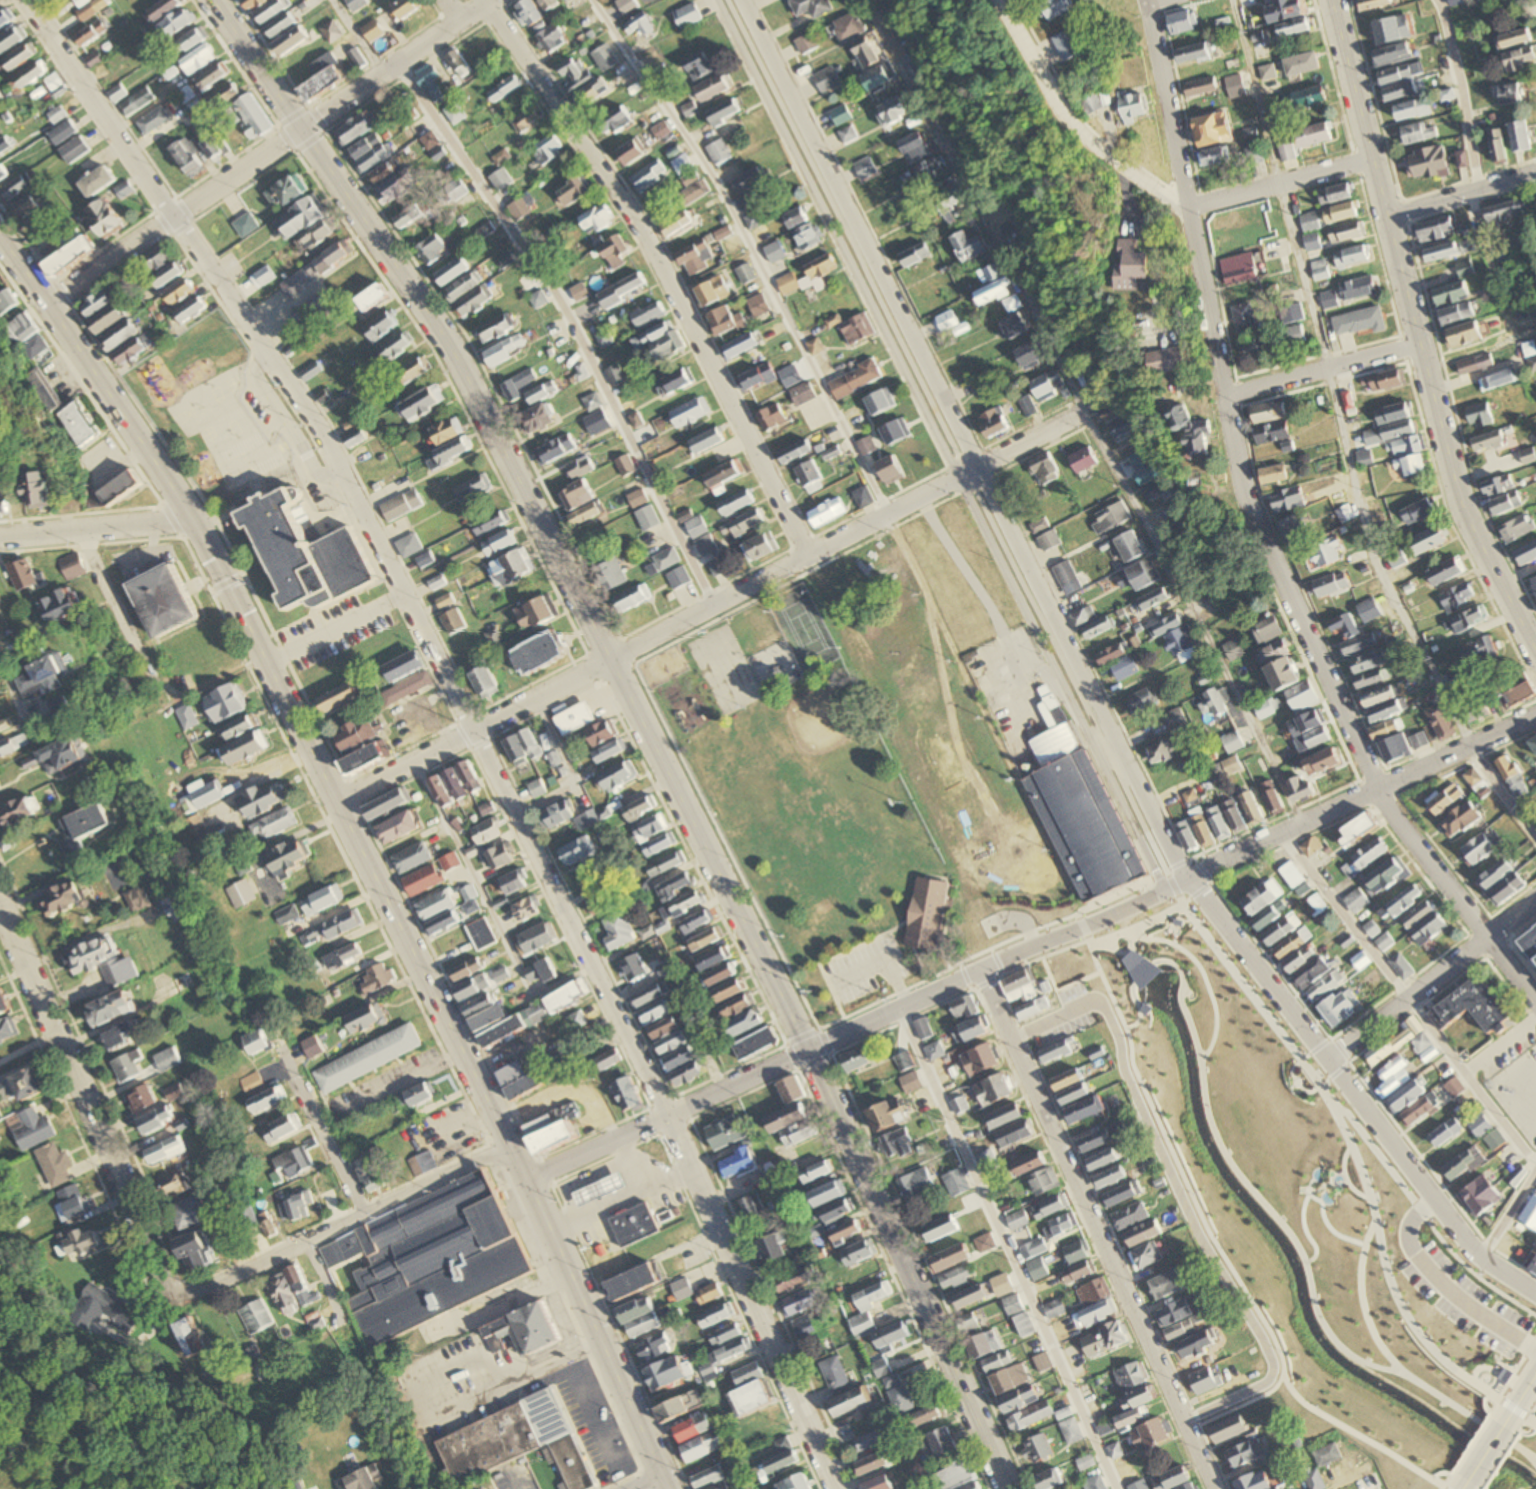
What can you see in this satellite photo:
building: (60, 0)
building: (563, 0)
road: (1148, 1)
building: (356, 4)
road: (452, 9)
road: (357, 37)
road: (1464, 92)
road: (1069, 127)
road: (267, 154)
road: (1279, 182)
road: (1459, 192)
road: (750, 249)
road: (664, 268)
road: (572, 325)
road: (1413, 330)
road: (1319, 369)
road: (1083, 412)
road: (1342, 435)
road: (949, 437)
road: (962, 439)
road: (941, 444)
road: (533, 509)
road: (95, 528)
road: (1263, 532)
road: (810, 581)
traffic signals: (224, 584)
road: (120, 601)
road: (712, 609)
park: (802, 629)
road: (1087, 657)
park: (723, 666)
park: (738, 696)
road: (18, 709)
park: (819, 719)
road: (470, 722)
park: (848, 782)
road: (1362, 795)
road: (1240, 832)
road: (1392, 835)
road: (725, 841)
road: (360, 847)
road: (1194, 855)
road: (1177, 861)
road: (1248, 862)
road: (1202, 868)
road: (1165, 869)
road: (1156, 874)
street lamp: (1213, 878)
road: (1210, 881)
road: (1172, 883)
road: (1200, 890)
road: (1110, 895)
road: (1187, 899)
building: (926, 912)
road: (1183, 916)
road: (1081, 925)
building: (1187, 926)
street lamp: (1106, 930)
road: (1176, 936)
road: (1087, 938)
building: (1531, 941)
road: (1475, 944)
road: (992, 949)
road: (835, 952)
road: (1041, 955)
road: (883, 959)
road: (1129, 959)
road: (996, 960)
road: (1143, 960)
road: (996, 961)
road: (1172, 961)
road: (960, 964)
building: (1138, 966)
parking lot: (865, 967)
road: (944, 968)
road: (1133, 969)
road: (1001, 971)
street lamp: (996, 974)
road: (965, 975)
road: (1431, 977)
road: (985, 981)
road: (969, 986)
road: (1060, 987)
road: (1508, 987)
street lamp: (1087, 989)
road: (1384, 997)
road: (1409, 999)
building: (1143, 1006)
road: (1139, 1013)
parking lot: (1062, 1015)
road: (903, 1019)
road: (810, 1037)
road: (824, 1039)
road: (1499, 1043)
road: (1366, 1045)
road: (830, 1050)
road: (1346, 1062)
road: (1301, 1089)
road: (1354, 1092)
road: (92, 1108)
road: (663, 1114)
road: (328, 1133)
road: (1351, 1145)
road: (1345, 1175)
building: (597, 1188)
road: (1307, 1189)
road: (1093, 1192)
road: (1179, 1193)
road: (1310, 1195)
park: (1305, 1206)
road: (1198, 1208)
road: (1508, 1209)
road: (1425, 1217)
road: (1280, 1223)
building: (631, 1224)
road: (1097, 1228)
road: (345, 1229)
road: (1007, 1248)
road: (1511, 1259)
building: (429, 1261)
road: (907, 1269)
road: (327, 1277)
road: (1445, 1284)
parking lot: (1465, 1300)
road: (1362, 1301)
road: (1509, 1338)
building: (536, 1341)
road: (1492, 1368)
building: (1504, 1374)
road: (1511, 1375)
road: (1499, 1382)
road: (1523, 1388)
road: (1245, 1402)
road: (1483, 1402)
road: (1512, 1407)
road: (1531, 1408)
road: (1194, 1413)
road: (1506, 1416)
road: (1530, 1418)
road: (1527, 1421)
road: (1520, 1424)
road: (1528, 1430)
street lamp: (1535, 1430)
road: (1471, 1441)
road: (1485, 1450)
street lamp: (1508, 1452)
road: (1525, 1452)
road: (1213, 1453)
building: (526, 1455)
road: (1534, 1456)
road: (1499, 1458)
street lamp: (1497, 1469)
road: (1439, 1471)
street lamp: (1432, 1473)
road: (1447, 1477)
road: (11, 1482)
road: (641, 1482)
road: (1465, 1482)
road: (1481, 1486)
road: (1482, 1486)
road: (1447, 1488)

